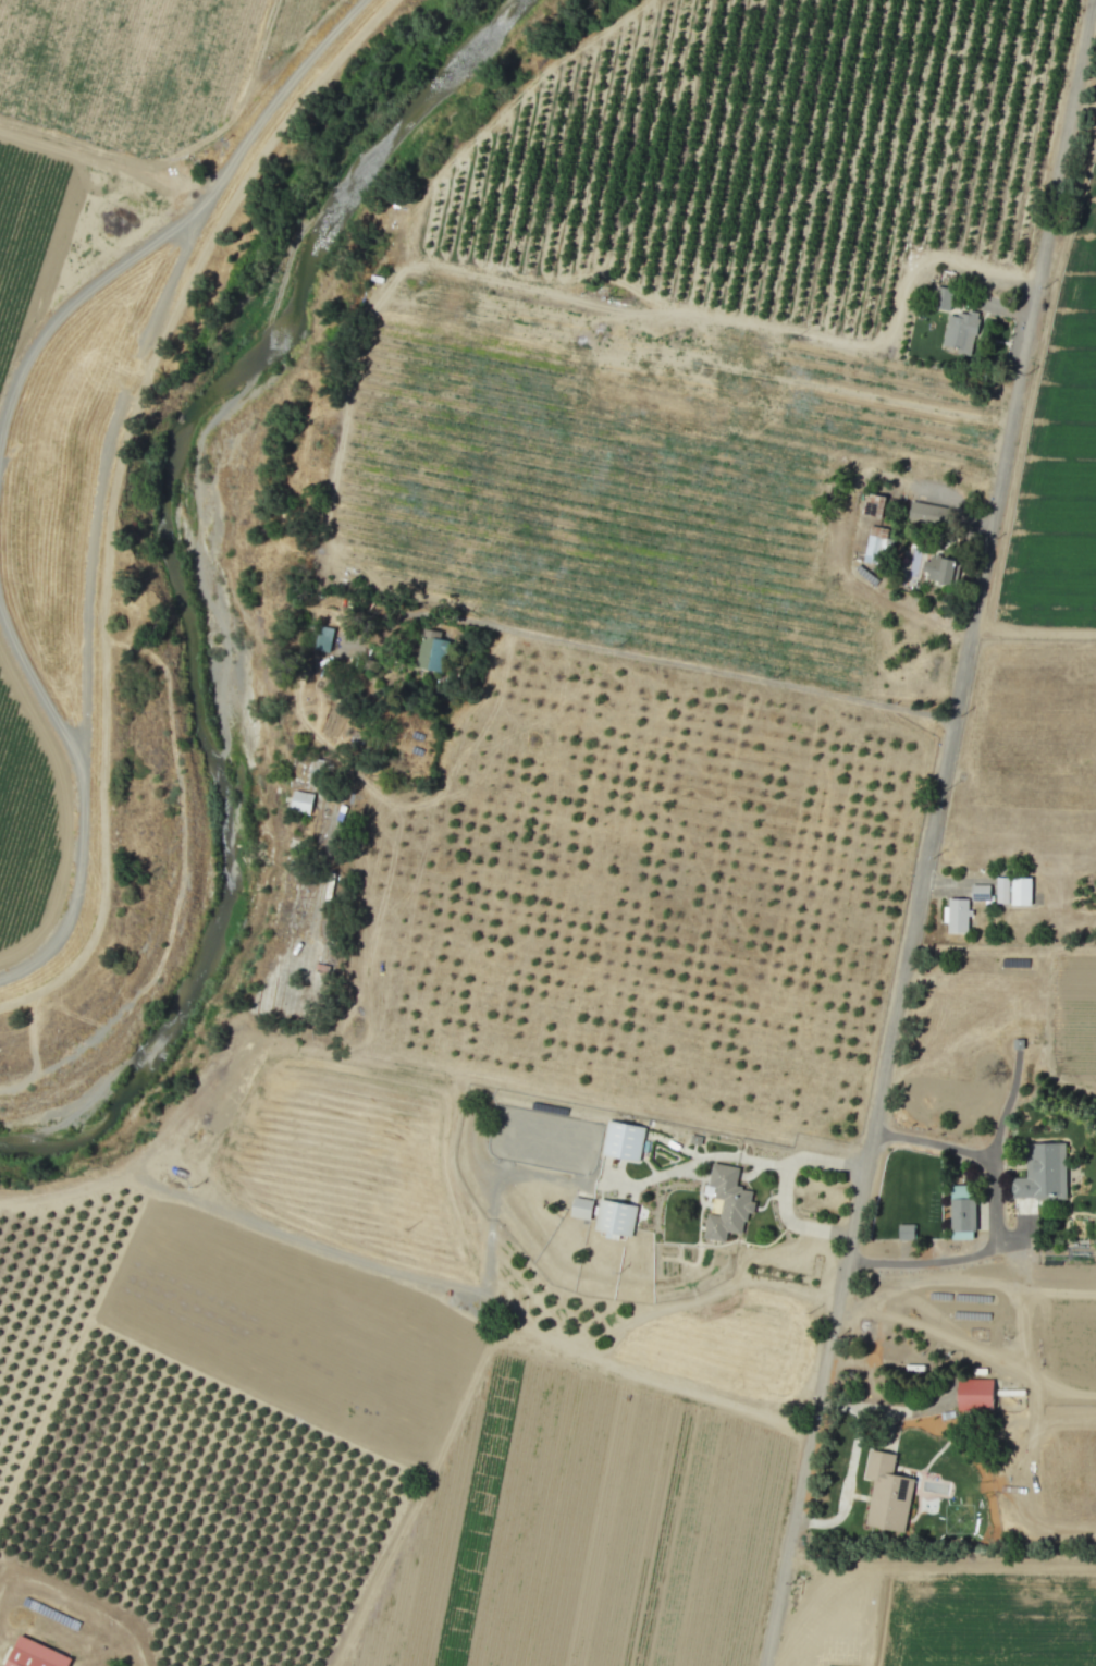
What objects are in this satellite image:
road: (1081, 127)
building: (941, 298)
road: (72, 301)
building: (959, 332)
road: (102, 473)
building: (873, 505)
building: (925, 514)
building: (875, 543)
building: (940, 569)
river: (184, 575)
road: (925, 612)
building: (323, 639)
building: (430, 654)
road: (704, 667)
road: (39, 688)
building: (301, 803)
road: (932, 833)
building: (1001, 891)
building: (1020, 892)
building: (980, 893)
building: (957, 916)
building: (623, 1141)
road: (695, 1162)
building: (1042, 1173)
road: (784, 1188)
building: (727, 1203)
building: (581, 1208)
building: (961, 1212)
road: (996, 1217)
building: (615, 1218)
building: (906, 1232)
road: (293, 1235)
building: (974, 1395)
road: (849, 1467)
building: (886, 1493)
building: (34, 1655)

